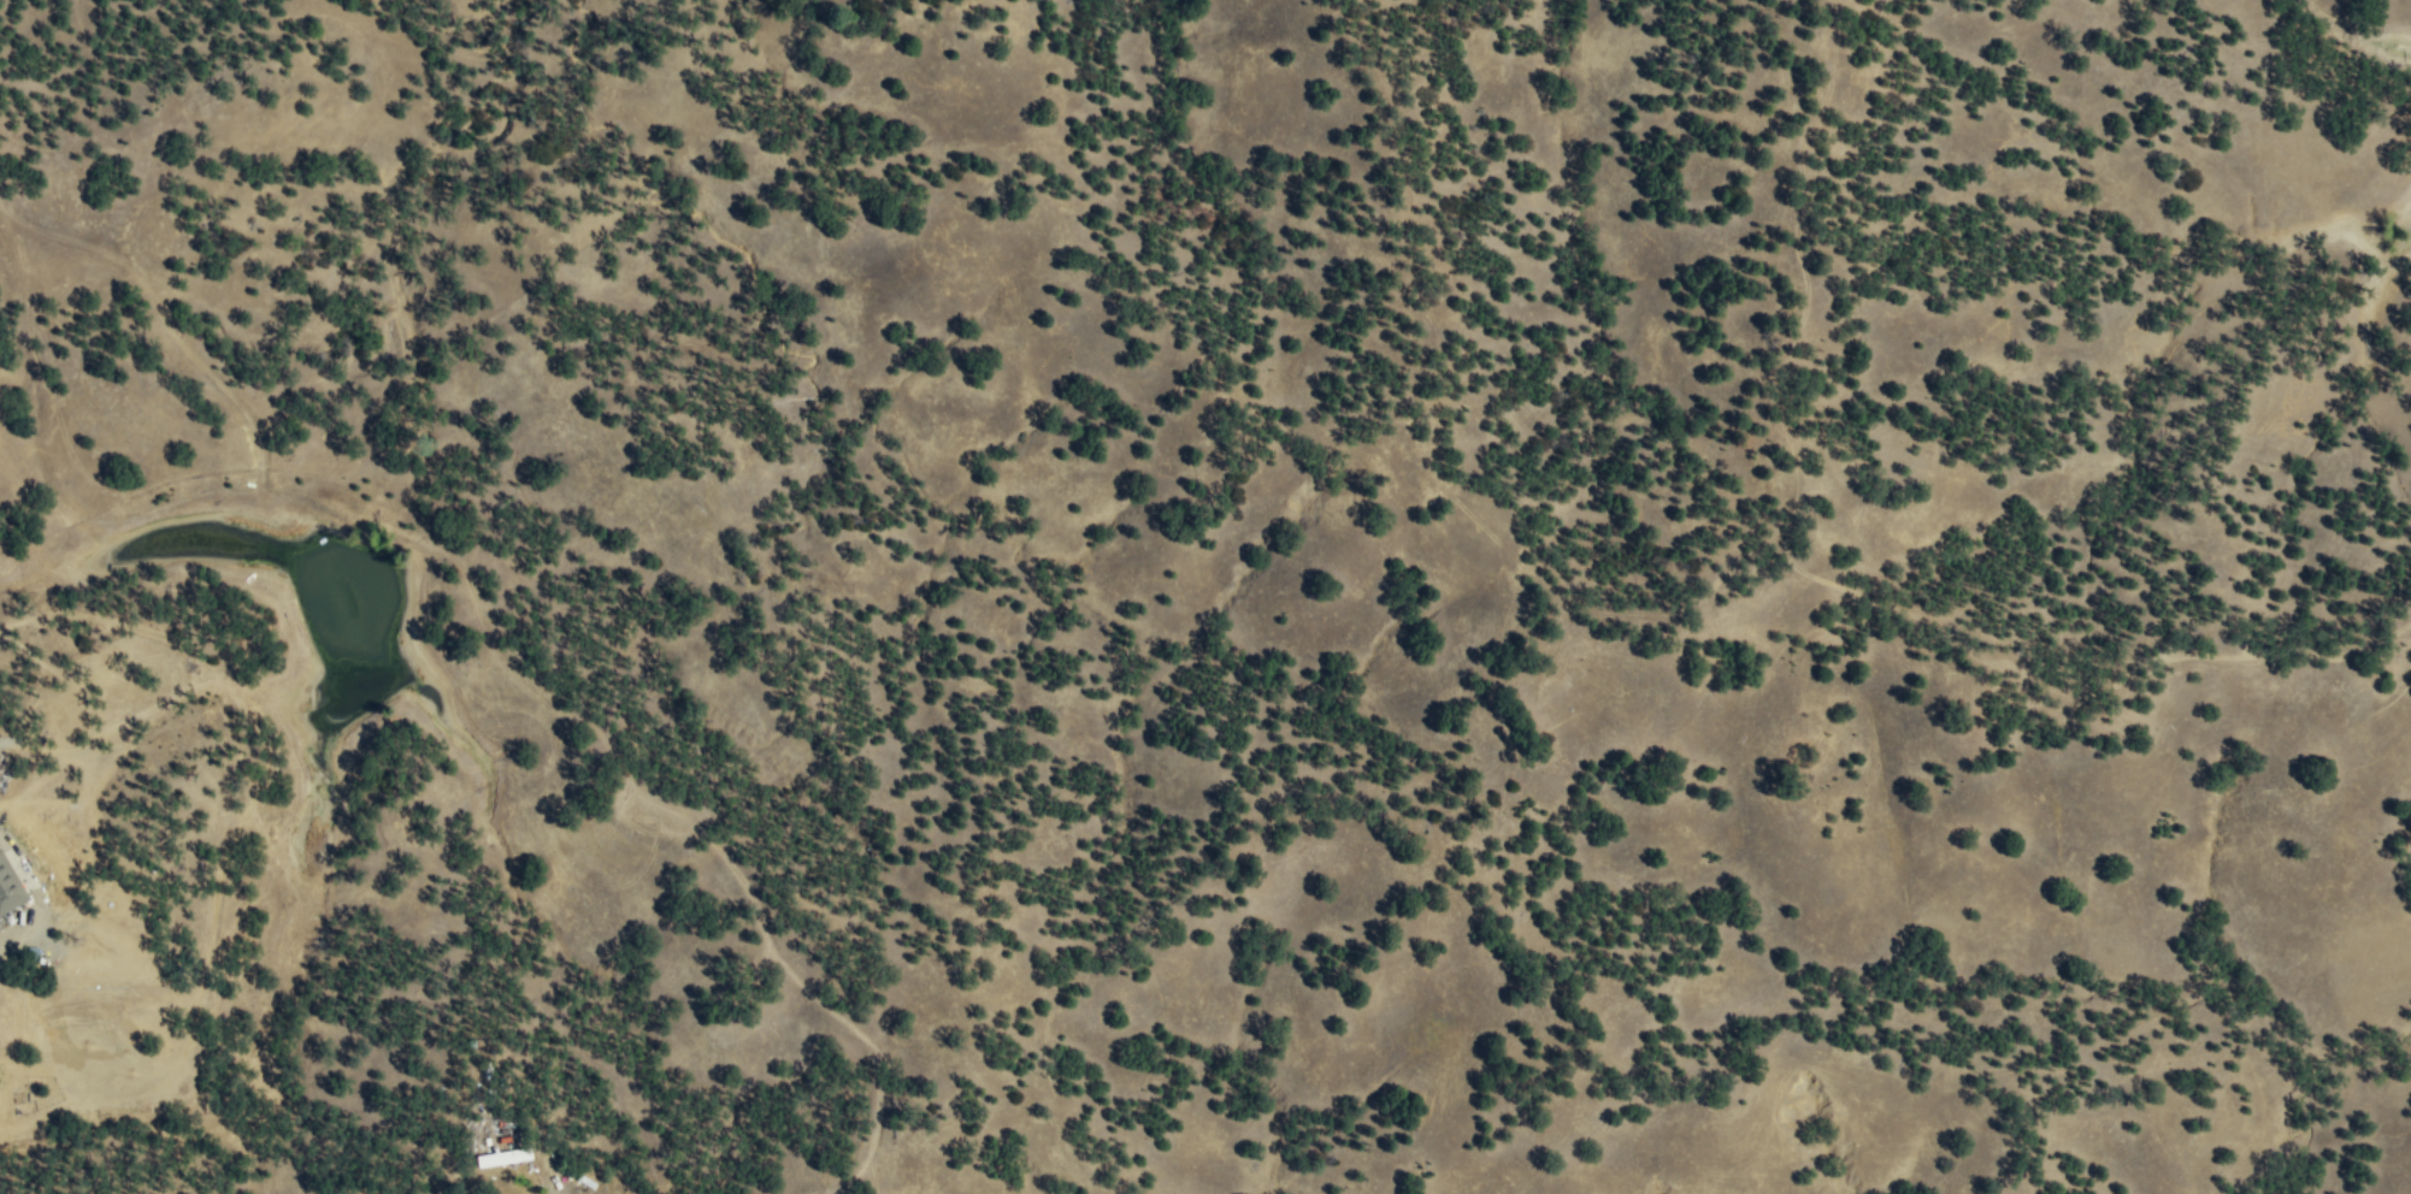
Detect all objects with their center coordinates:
road: (220, 384)
road: (65, 430)
building: (8, 886)
building: (501, 1157)

